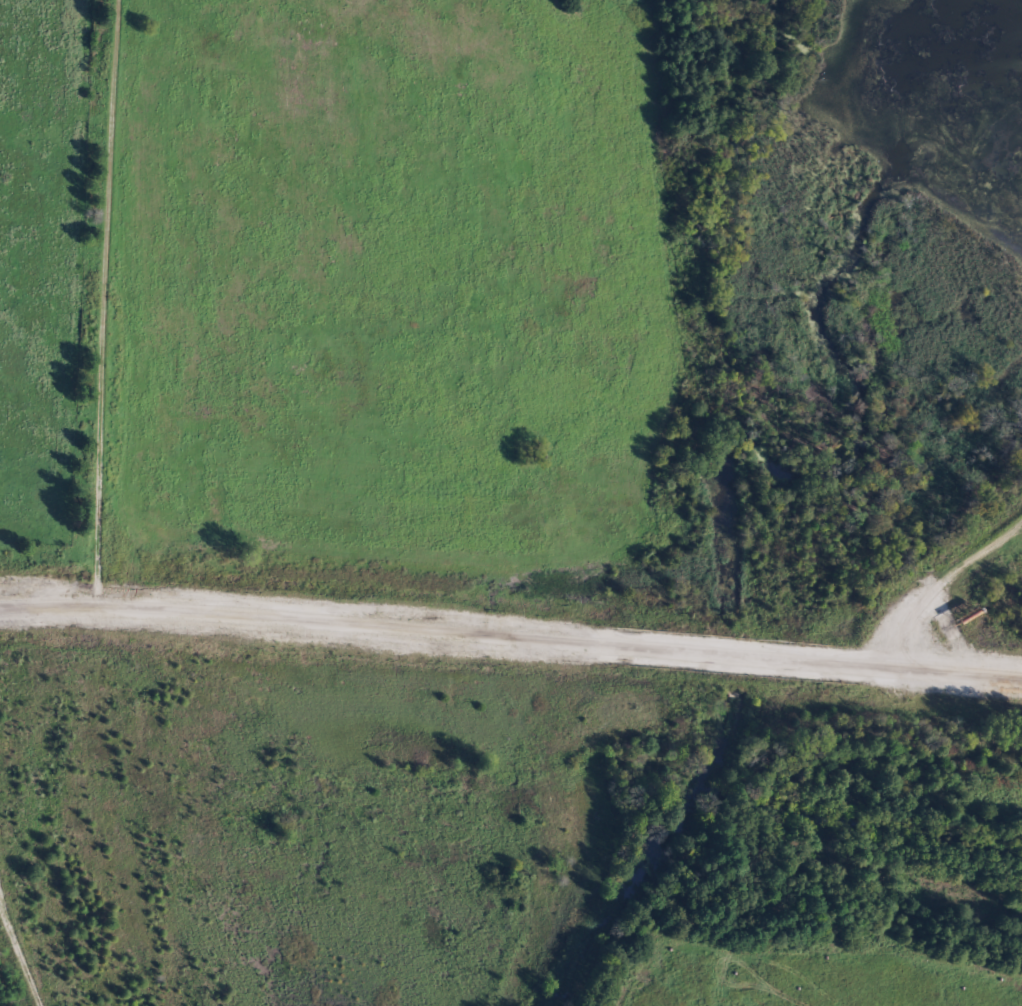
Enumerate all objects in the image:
road: (137, 245)
road: (510, 648)
road: (18, 974)

